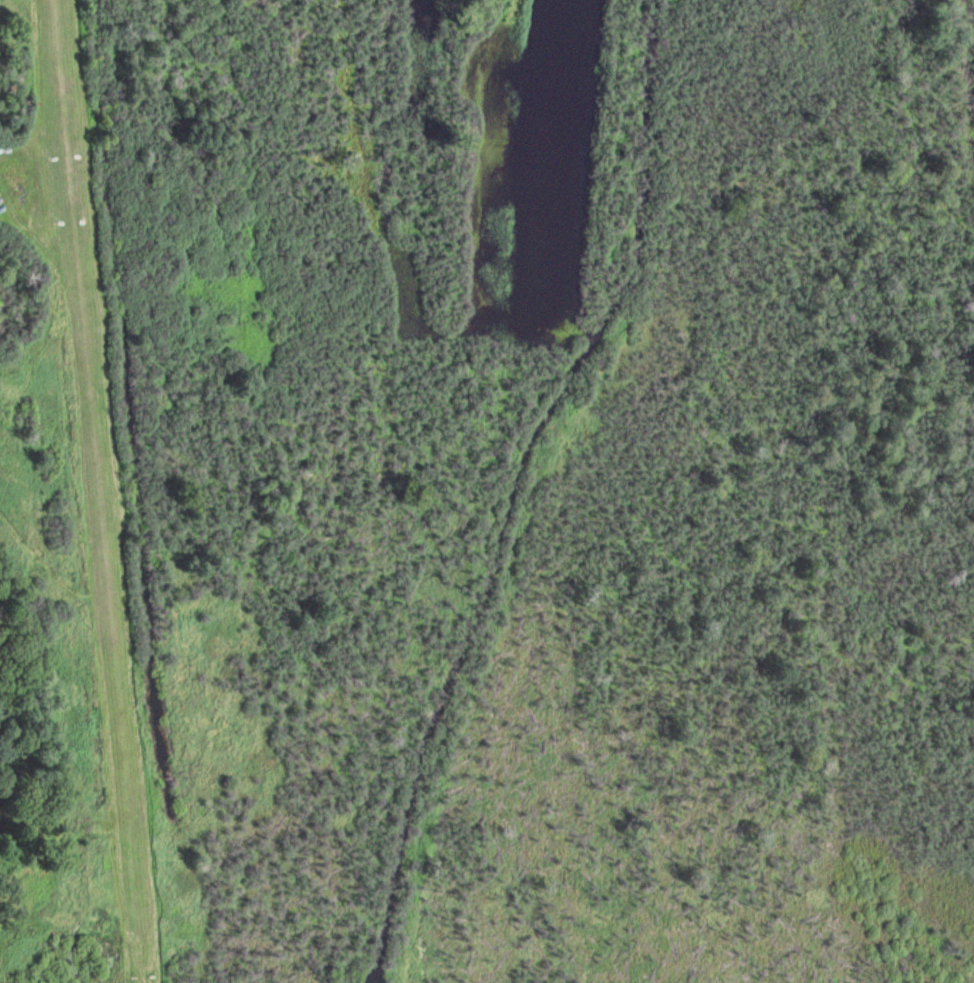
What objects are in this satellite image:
airport runway: (91, 491)

